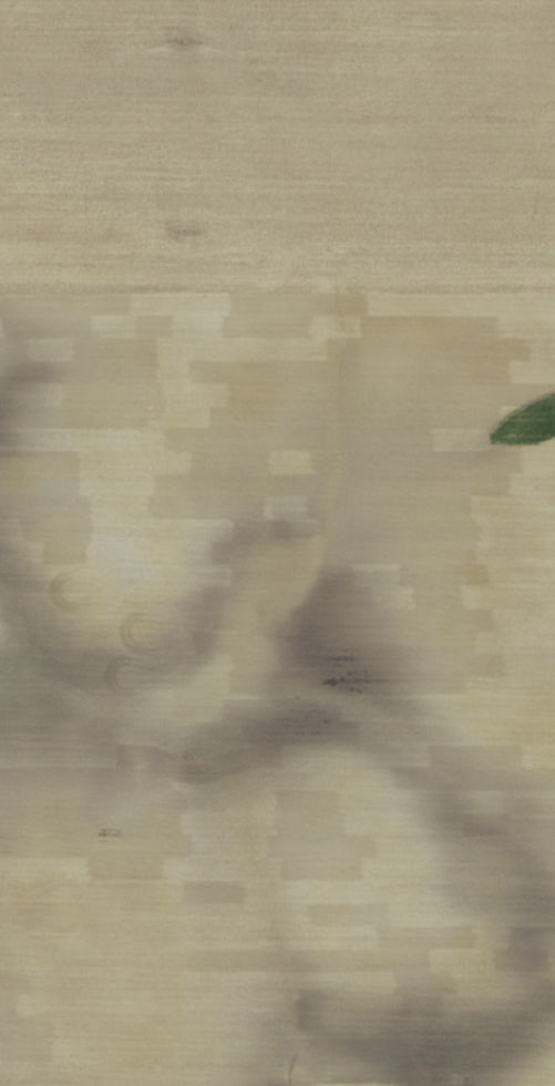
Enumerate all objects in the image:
crop: (277, 543)

